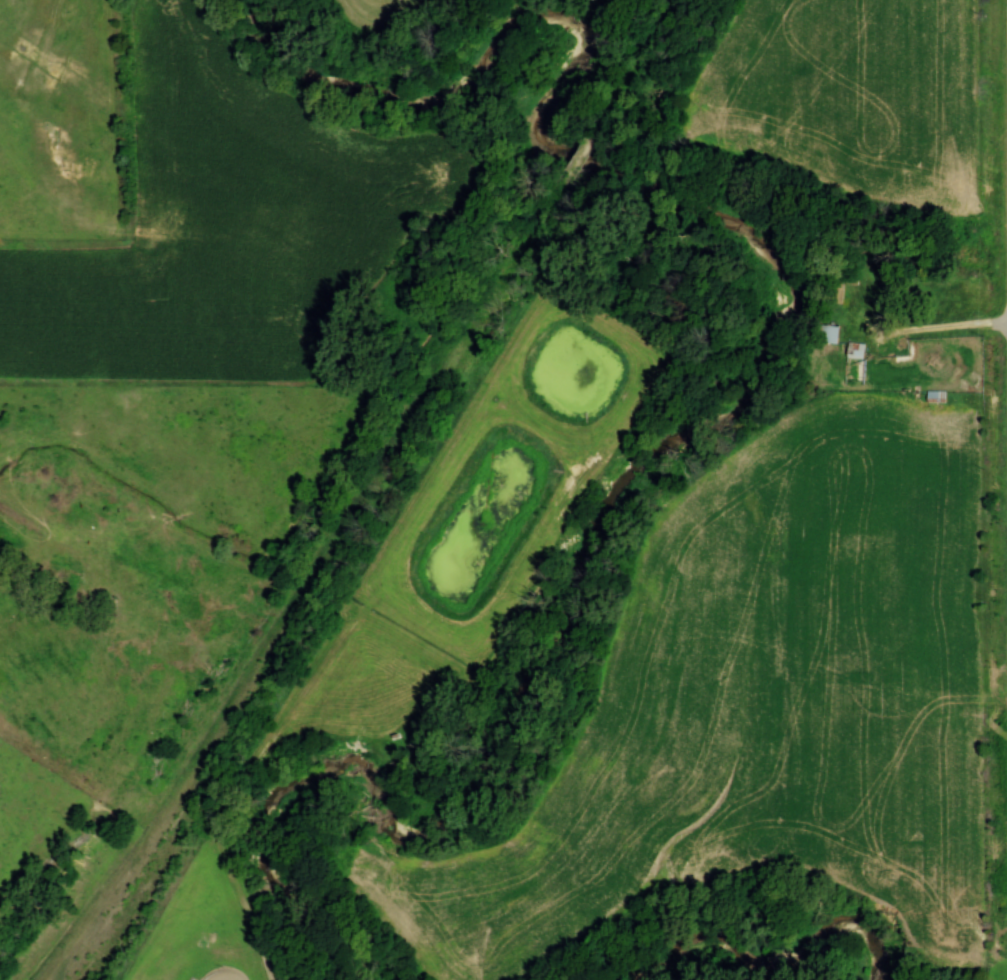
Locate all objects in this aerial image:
crop: (859, 88)
road: (910, 333)
building: (830, 334)
building: (856, 350)
building: (937, 397)
crop: (755, 694)

